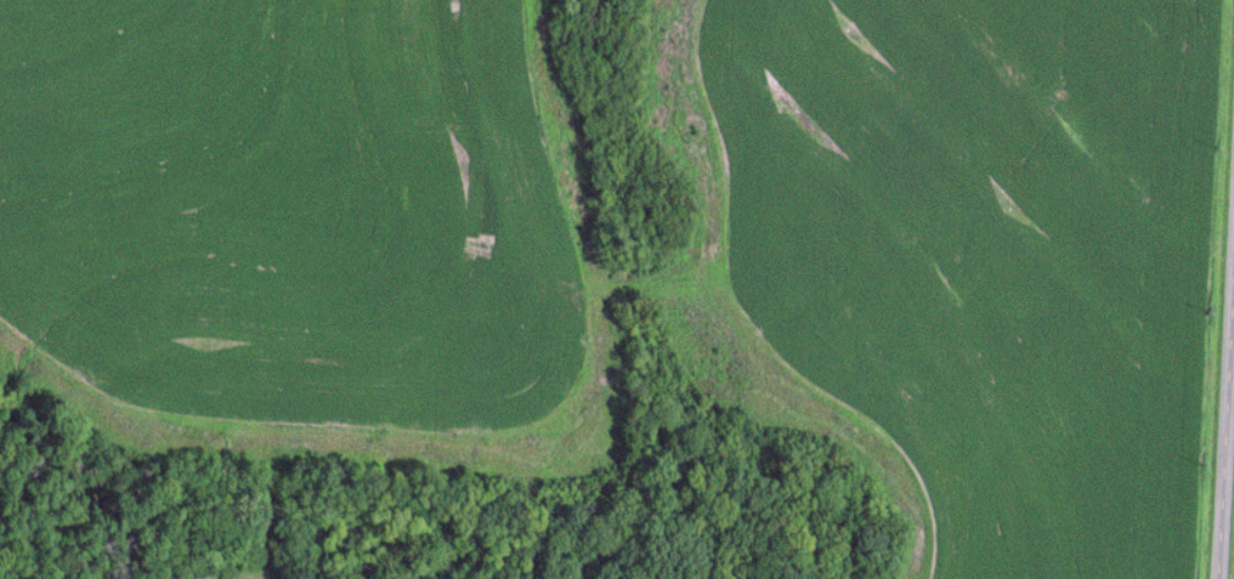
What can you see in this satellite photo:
road: (1225, 432)

